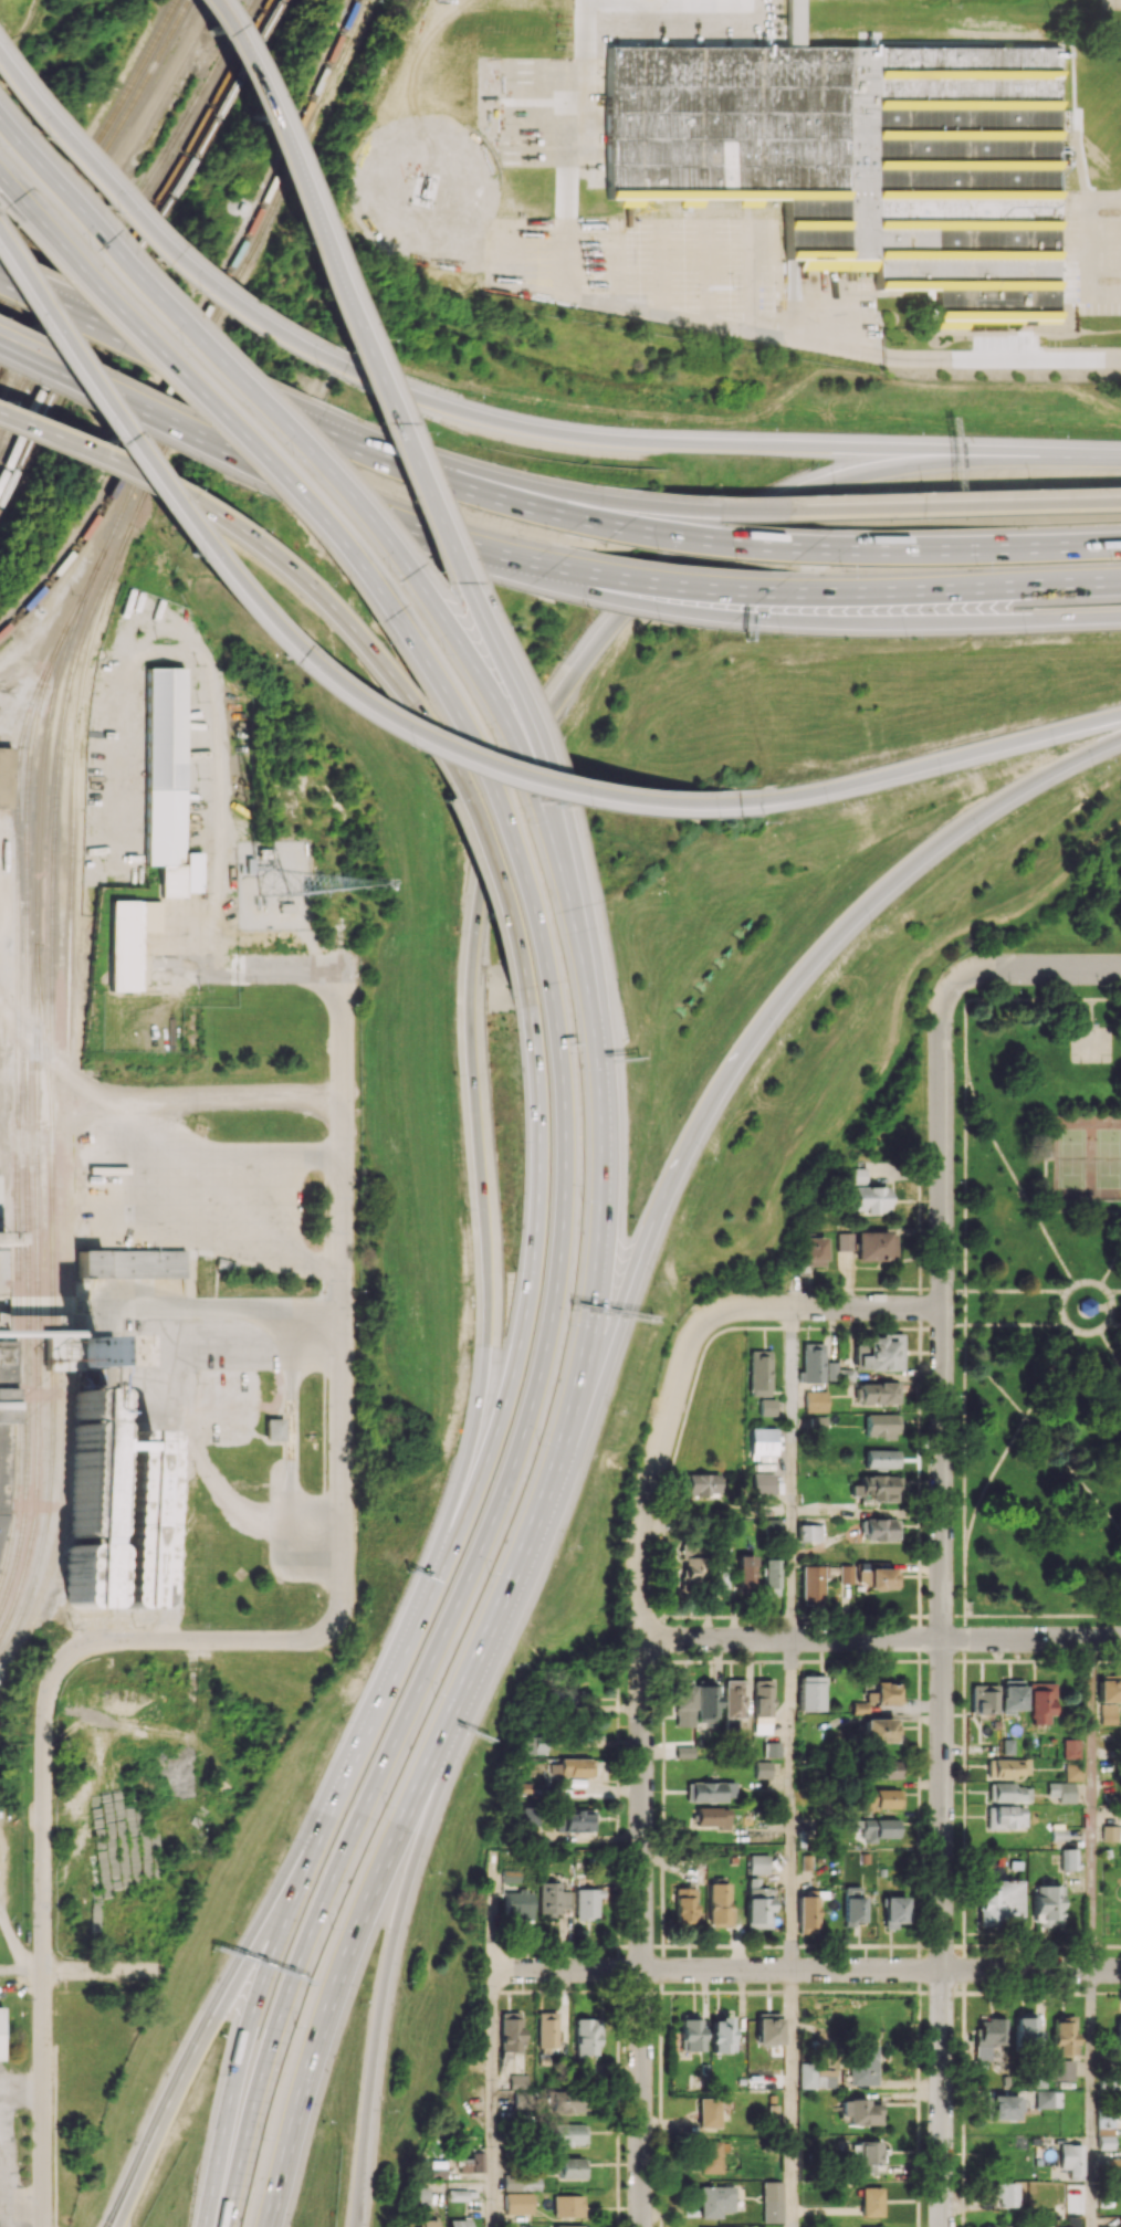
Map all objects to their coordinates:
railway: (363, 18)
road: (248, 93)
railway: (317, 104)
railway: (293, 145)
railway: (90, 154)
building: (845, 154)
road: (22, 157)
railway: (96, 164)
building: (1036, 179)
road: (111, 185)
road: (10, 197)
building: (241, 207)
railway: (127, 224)
road: (147, 235)
railway: (137, 243)
railway: (143, 255)
railway: (254, 256)
road: (85, 281)
road: (193, 340)
road: (53, 345)
road: (168, 349)
road: (965, 358)
road: (130, 399)
road: (217, 412)
street lamp: (762, 423)
street lamp: (910, 426)
street lamp: (1052, 429)
railway: (175, 442)
road: (723, 445)
street lamp: (795, 470)
railway: (127, 472)
road: (522, 481)
road: (321, 483)
road: (496, 490)
road: (423, 498)
road: (916, 510)
road: (371, 527)
road: (753, 545)
road: (982, 546)
road: (494, 547)
road: (481, 552)
road: (352, 558)
street lamp: (1110, 561)
street lamp: (845, 570)
road: (694, 585)
road: (949, 590)
road: (322, 606)
road: (670, 607)
road: (937, 622)
street lamp: (782, 635)
street lamp: (1026, 635)
street lamp: (908, 640)
road: (470, 686)
road: (378, 725)
road: (943, 758)
road: (474, 767)
street lamp: (1096, 773)
railway: (71, 774)
building: (4, 777)
street lamp: (942, 781)
building: (167, 784)
railway: (28, 791)
street lamp: (829, 810)
railway: (53, 820)
street lamp: (981, 838)
road: (937, 840)
building: (266, 853)
road: (559, 860)
road: (555, 863)
building: (250, 865)
building: (286, 907)
street lamp: (872, 929)
building: (127, 941)
road: (472, 967)
road: (248, 969)
road: (1037, 969)
road: (995, 999)
road: (1106, 999)
road: (1090, 1012)
street lamp: (780, 1040)
park: (1091, 1046)
road: (63, 1065)
railway: (36, 1091)
road: (710, 1099)
road: (213, 1100)
railway: (19, 1103)
road: (995, 1141)
park: (1086, 1158)
street lamp: (704, 1160)
road: (260, 1163)
building: (858, 1175)
road: (965, 1179)
road: (1046, 1181)
building: (870, 1199)
road: (1039, 1211)
road: (1083, 1211)
road: (245, 1236)
building: (846, 1241)
road: (599, 1243)
building: (876, 1246)
road: (1054, 1248)
building: (814, 1251)
building: (226, 1262)
building: (130, 1263)
road: (531, 1264)
road: (1110, 1264)
road: (555, 1275)
street lamp: (654, 1285)
road: (954, 1291)
road: (1114, 1291)
road: (1015, 1292)
road: (217, 1302)
road: (344, 1302)
road: (1, 1303)
railway: (52, 1304)
road: (1062, 1305)
building: (1087, 1305)
road: (1113, 1306)
road: (209, 1307)
road: (866, 1307)
park: (1043, 1307)
road: (965, 1309)
road: (1113, 1323)
road: (954, 1325)
road: (1017, 1325)
road: (965, 1335)
road: (1110, 1347)
building: (879, 1353)
building: (811, 1363)
building: (758, 1373)
building: (836, 1373)
road: (1049, 1373)
road: (994, 1382)
building: (879, 1393)
road: (591, 1397)
building: (815, 1401)
building: (767, 1407)
building: (818, 1422)
building: (880, 1426)
building: (274, 1428)
building: (3, 1440)
building: (763, 1441)
road: (291, 1446)
road: (965, 1448)
building: (881, 1459)
road: (790, 1472)
road: (1073, 1474)
building: (763, 1483)
building: (702, 1484)
building: (878, 1488)
building: (132, 1498)
road: (974, 1511)
building: (772, 1526)
building: (879, 1529)
building: (808, 1532)
railway: (62, 1533)
building: (689, 1571)
building: (746, 1573)
building: (846, 1574)
building: (720, 1578)
building: (879, 1578)
building: (813, 1584)
road: (942, 1601)
road: (953, 1616)
road: (1043, 1616)
road: (965, 1627)
road: (880, 1638)
road: (200, 1640)
road: (482, 1647)
building: (1109, 1691)
building: (811, 1693)
building: (877, 1695)
building: (1012, 1698)
building: (569, 1699)
building: (684, 1699)
building: (983, 1699)
building: (708, 1701)
building: (1041, 1702)
building: (733, 1703)
building: (763, 1706)
building: (1108, 1713)
road: (641, 1725)
building: (878, 1730)
building: (532, 1745)
building: (773, 1748)
building: (1070, 1748)
building: (746, 1750)
building: (572, 1766)
building: (1008, 1767)
building: (763, 1769)
building: (887, 1769)
building: (1072, 1772)
building: (1061, 1790)
building: (711, 1792)
building: (1008, 1793)
building: (888, 1798)
building: (868, 1801)
road: (792, 1804)
road: (1090, 1805)
building: (530, 1816)
building: (712, 1817)
building: (1005, 1817)
building: (575, 1820)
building: (880, 1829)
building: (1111, 1832)
road: (573, 1841)
building: (1069, 1859)
building: (757, 1863)
building: (510, 1876)
building: (552, 1898)
building: (999, 1901)
building: (587, 1903)
building: (518, 1904)
building: (685, 1904)
building: (719, 1904)
building: (757, 1904)
building: (1047, 1904)
building: (852, 1905)
building: (894, 1911)
building: (807, 1912)
road: (488, 1916)
road: (313, 1931)
road: (44, 1937)
road: (97, 1969)
road: (805, 1969)
road: (342, 1973)
road: (387, 1975)
building: (767, 2028)
building: (1024, 2029)
building: (511, 2031)
building: (546, 2031)
building: (691, 2032)
building: (0, 2034)
building: (720, 2035)
building: (1065, 2035)
building: (1118, 2035)
building: (585, 2036)
road: (197, 2040)
building: (989, 2040)
road: (243, 2042)
building: (861, 2065)
building: (1060, 2070)
building: (816, 2077)
building: (517, 2081)
road: (3, 2084)
road: (25, 2086)
road: (489, 2099)
road: (790, 2099)
building: (1047, 2099)
road: (1091, 2099)
building: (566, 2101)
building: (1000, 2107)
building: (861, 2111)
building: (709, 2112)
building: (1104, 2129)
building: (567, 2134)
road: (8, 2156)
building: (710, 2156)
building: (867, 2156)
building: (1071, 2160)
building: (472, 2161)
building: (570, 2168)
building: (1113, 2168)
building: (437, 2170)
building: (521, 2183)
building: (1004, 2194)
building: (458, 2195)
building: (419, 2196)
building: (715, 2200)
building: (772, 2202)
building: (871, 2202)
building: (516, 2203)
building: (567, 2205)
road: (24, 2216)
building: (1119, 2221)
building: (427, 2223)
building: (459, 2223)
building: (569, 2225)

